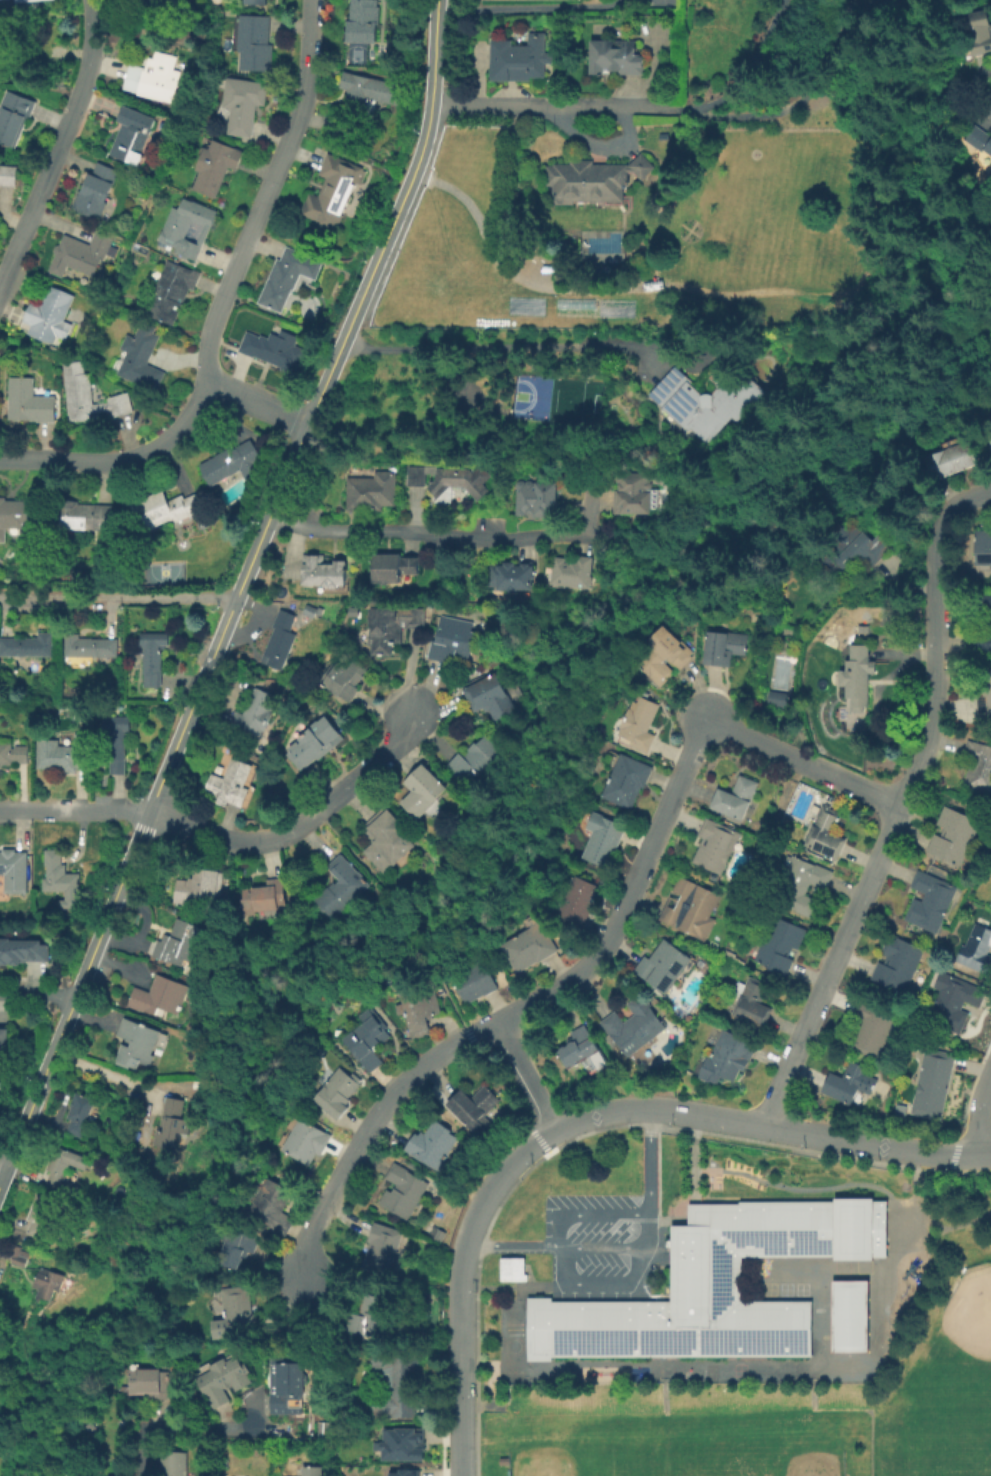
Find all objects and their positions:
building: (18, 0)
building: (255, 0)
road: (526, 4)
building: (147, 5)
building: (362, 20)
building: (973, 32)
building: (254, 41)
building: (520, 56)
building: (615, 56)
road: (747, 64)
building: (152, 76)
building: (365, 100)
building: (243, 103)
road: (560, 104)
building: (13, 115)
building: (130, 133)
road: (55, 140)
building: (975, 142)
building: (215, 165)
building: (7, 175)
building: (593, 178)
building: (94, 189)
road: (263, 192)
building: (332, 192)
building: (187, 225)
building: (79, 253)
building: (282, 277)
building: (170, 291)
building: (49, 316)
road: (500, 343)
building: (273, 350)
building: (141, 358)
building: (78, 389)
building: (704, 399)
road: (256, 401)
building: (30, 403)
building: (988, 433)
road: (120, 458)
building: (233, 461)
building: (943, 464)
building: (450, 479)
building: (371, 490)
building: (633, 491)
building: (537, 497)
road: (966, 500)
building: (163, 508)
road: (590, 509)
building: (84, 514)
building: (19, 515)
road: (445, 535)
building: (983, 547)
building: (856, 553)
building: (394, 566)
building: (323, 570)
building: (574, 571)
building: (511, 574)
road: (234, 592)
road: (116, 594)
building: (987, 626)
building: (391, 627)
building: (863, 627)
building: (279, 639)
building: (452, 639)
building: (27, 644)
building: (89, 645)
building: (724, 646)
building: (151, 654)
building: (663, 654)
building: (344, 676)
building: (857, 676)
building: (489, 695)
building: (983, 696)
building: (775, 697)
building: (253, 713)
building: (639, 722)
building: (116, 741)
building: (313, 741)
building: (13, 752)
building: (63, 757)
building: (475, 757)
road: (803, 758)
building: (977, 770)
building: (627, 779)
building: (229, 783)
building: (422, 789)
building: (735, 796)
road: (72, 812)
road: (889, 827)
road: (299, 828)
building: (826, 831)
building: (954, 836)
building: (386, 838)
building: (603, 840)
building: (715, 844)
road: (353, 853)
building: (14, 870)
building: (61, 878)
building: (199, 887)
building: (339, 887)
building: (802, 887)
building: (264, 896)
building: (578, 900)
building: (927, 904)
building: (990, 905)
building: (691, 909)
road: (415, 933)
building: (180, 940)
building: (780, 943)
building: (530, 944)
building: (977, 948)
building: (22, 952)
building: (663, 964)
building: (730, 966)
building: (893, 969)
building: (474, 980)
road: (35, 994)
building: (159, 994)
building: (753, 1003)
road: (453, 1005)
building: (951, 1005)
building: (418, 1010)
road: (519, 1012)
building: (634, 1026)
building: (871, 1026)
building: (367, 1039)
building: (137, 1042)
building: (4, 1043)
building: (578, 1045)
building: (728, 1058)
road: (108, 1071)
road: (527, 1077)
building: (846, 1081)
building: (931, 1086)
building: (337, 1090)
building: (473, 1103)
building: (80, 1112)
road: (979, 1115)
road: (706, 1116)
building: (171, 1122)
road: (696, 1128)
building: (305, 1140)
building: (432, 1142)
road: (871, 1144)
road: (985, 1155)
road: (917, 1161)
road: (650, 1162)
road: (3, 1163)
building: (66, 1165)
building: (402, 1190)
road: (806, 1190)
road: (685, 1200)
building: (272, 1205)
building: (41, 1214)
road: (589, 1214)
road: (939, 1225)
road: (962, 1226)
road: (931, 1229)
road: (468, 1237)
building: (237, 1247)
road: (513, 1247)
road: (617, 1247)
building: (381, 1249)
building: (22, 1257)
building: (511, 1269)
building: (48, 1282)
road: (599, 1283)
building: (715, 1285)
road: (487, 1287)
road: (542, 1287)
road: (824, 1291)
building: (238, 1310)
building: (373, 1312)
building: (851, 1316)
park: (960, 1341)
park: (942, 1348)
road: (750, 1371)
road: (660, 1377)
building: (224, 1379)
road: (674, 1379)
road: (821, 1379)
road: (804, 1380)
building: (148, 1381)
road: (530, 1383)
building: (289, 1388)
building: (396, 1388)
road: (484, 1406)
road: (255, 1414)
road: (870, 1415)
park: (954, 1418)
road: (186, 1428)
building: (406, 1441)
park: (574, 1443)
park: (790, 1444)
building: (223, 1461)
building: (175, 1463)
building: (388, 1469)
building: (314, 1470)

